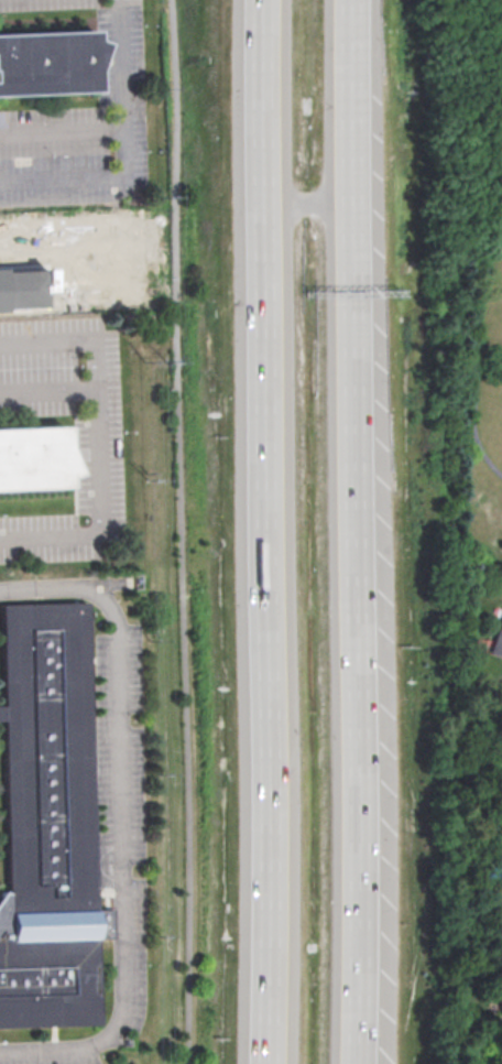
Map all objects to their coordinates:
road: (495, 23)
building: (46, 61)
road: (62, 128)
road: (495, 151)
road: (124, 152)
road: (306, 205)
parking lot: (56, 336)
road: (474, 346)
parking lot: (40, 384)
road: (48, 392)
road: (100, 445)
parking lot: (103, 456)
building: (33, 457)
road: (351, 525)
road: (182, 531)
road: (268, 531)
parking lot: (45, 540)
building: (498, 638)
building: (45, 760)
road: (124, 818)
building: (499, 895)
building: (500, 969)
building: (48, 981)
building: (500, 990)
road: (361, 1057)

